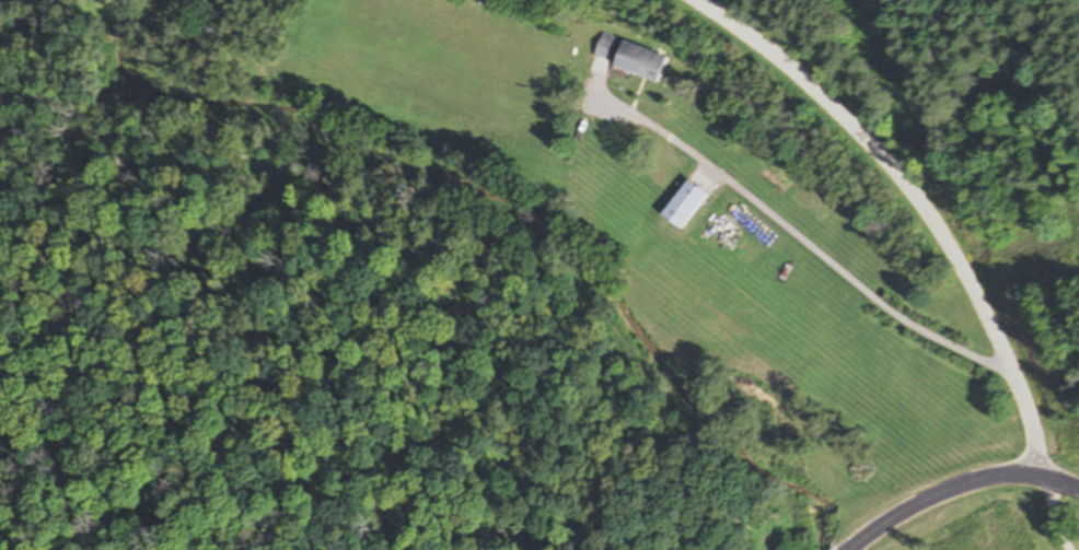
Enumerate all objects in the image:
building: (627, 58)
building: (680, 204)
road: (917, 207)
road: (801, 230)
road: (963, 491)

